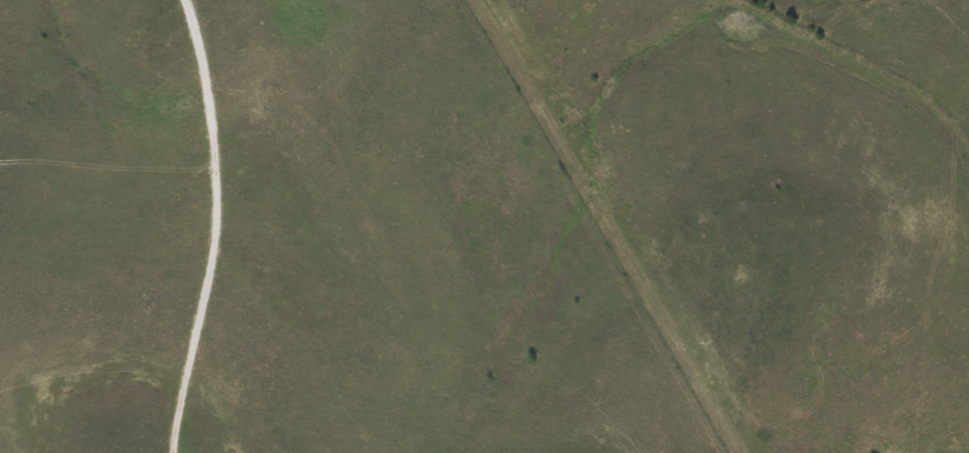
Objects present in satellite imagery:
road: (213, 227)

